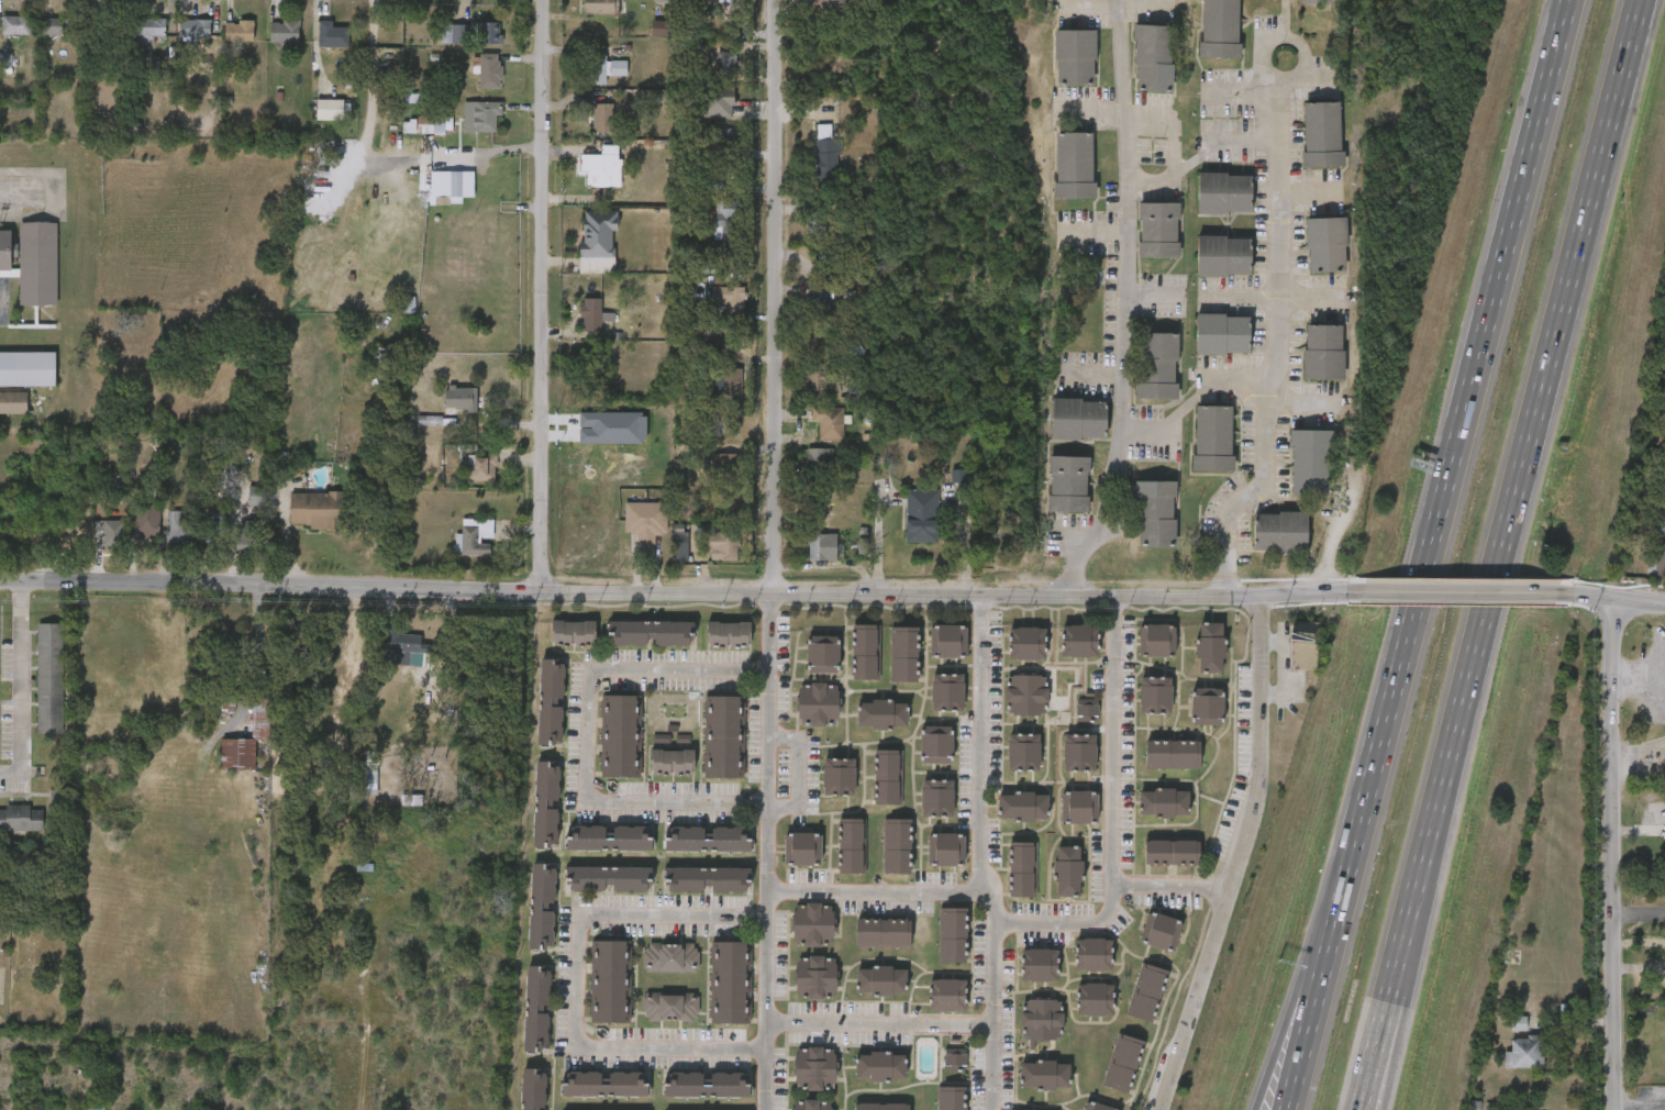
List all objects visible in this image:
building: (730, 1)
building: (1316, 1)
building: (830, 3)
building: (600, 5)
building: (15, 23)
building: (54, 24)
building: (196, 26)
building: (104, 27)
building: (151, 29)
building: (238, 29)
building: (1220, 29)
building: (285, 30)
building: (489, 31)
building: (454, 32)
building: (333, 33)
building: (1075, 57)
building: (1154, 58)
building: (5, 62)
building: (725, 64)
building: (604, 68)
building: (490, 69)
building: (413, 99)
building: (718, 100)
building: (329, 108)
building: (481, 115)
building: (603, 115)
road: (1175, 123)
building: (434, 124)
building: (410, 126)
building: (1322, 135)
building: (724, 137)
building: (826, 152)
road: (1200, 155)
building: (1074, 166)
building: (603, 168)
building: (455, 184)
building: (714, 185)
building: (1224, 193)
building: (728, 218)
building: (817, 224)
building: (1158, 230)
building: (599, 232)
building: (1327, 245)
building: (348, 249)
building: (1223, 256)
building: (32, 260)
road: (1277, 278)
building: (321, 286)
road: (543, 296)
building: (728, 296)
road: (776, 296)
building: (820, 301)
road: (1126, 303)
building: (408, 304)
building: (593, 313)
building: (1223, 334)
building: (710, 342)
building: (1323, 353)
building: (1157, 366)
building: (27, 368)
building: (728, 379)
building: (819, 384)
building: (462, 398)
building: (13, 401)
road: (1194, 401)
building: (431, 420)
building: (1078, 420)
building: (830, 421)
building: (613, 428)
building: (1212, 439)
road: (1454, 458)
building: (820, 462)
building: (1310, 463)
building: (482, 465)
building: (723, 465)
building: (958, 476)
building: (1068, 485)
building: (258, 495)
building: (318, 508)
building: (922, 514)
building: (1156, 515)
building: (645, 519)
building: (147, 520)
building: (178, 525)
building: (1662, 528)
building: (215, 529)
building: (1280, 533)
building: (113, 535)
road: (1333, 536)
building: (248, 537)
building: (470, 539)
building: (680, 544)
building: (722, 546)
building: (819, 546)
building: (863, 546)
road: (1501, 554)
building: (1660, 559)
road: (673, 592)
road: (1458, 595)
road: (1618, 600)
building: (573, 634)
building: (650, 634)
building: (729, 635)
building: (1156, 640)
building: (947, 641)
building: (1079, 641)
building: (1026, 643)
building: (1305, 646)
building: (1210, 647)
building: (406, 652)
building: (866, 652)
building: (822, 654)
building: (903, 654)
road: (252, 656)
road: (1640, 676)
building: (51, 679)
road: (1664, 679)
road: (20, 684)
building: (947, 691)
building: (1026, 695)
building: (1155, 695)
building: (551, 702)
building: (225, 703)
building: (818, 704)
building: (1207, 707)
building: (1087, 708)
building: (883, 713)
building: (260, 719)
road: (585, 735)
building: (620, 736)
building: (723, 736)
building: (661, 739)
building: (684, 742)
building: (936, 744)
building: (1023, 752)
building: (1079, 753)
building: (1173, 754)
building: (237, 755)
building: (671, 762)
building: (371, 774)
building: (839, 777)
building: (888, 778)
road: (1115, 793)
building: (412, 799)
building: (937, 799)
building: (1164, 802)
building: (546, 803)
building: (1023, 807)
building: (1080, 807)
building: (21, 819)
building: (609, 839)
building: (708, 840)
building: (852, 847)
building: (897, 847)
building: (802, 850)
building: (946, 850)
road: (772, 851)
road: (983, 853)
building: (1172, 853)
road: (1616, 854)
road: (1242, 856)
building: (1022, 869)
building: (1067, 872)
building: (608, 879)
building: (707, 880)
road: (880, 892)
building: (541, 907)
road: (1641, 912)
building: (813, 924)
road: (1070, 924)
building: (1161, 931)
building: (884, 933)
building: (952, 935)
building: (1094, 955)
building: (671, 957)
building: (1039, 965)
building: (815, 977)
building: (880, 980)
building: (610, 981)
building: (731, 983)
road: (580, 984)
building: (1147, 992)
building: (947, 995)
building: (1095, 1000)
road: (1291, 1002)
road: (347, 1007)
building: (670, 1007)
building: (537, 1008)
road: (1300, 1011)
road: (1401, 1017)
building: (1042, 1019)
road: (884, 1023)
building: (1519, 1023)
building: (1522, 1053)
building: (955, 1058)
building: (1122, 1064)
building: (880, 1066)
building: (815, 1069)
building: (1044, 1075)
building: (603, 1084)
building: (706, 1085)
building: (532, 1088)
building: (951, 1098)
road: (1258, 1101)
road: (1385, 1101)
building: (812, 1105)
building: (1475, 1106)
building: (881, 1107)
building: (1097, 1107)

